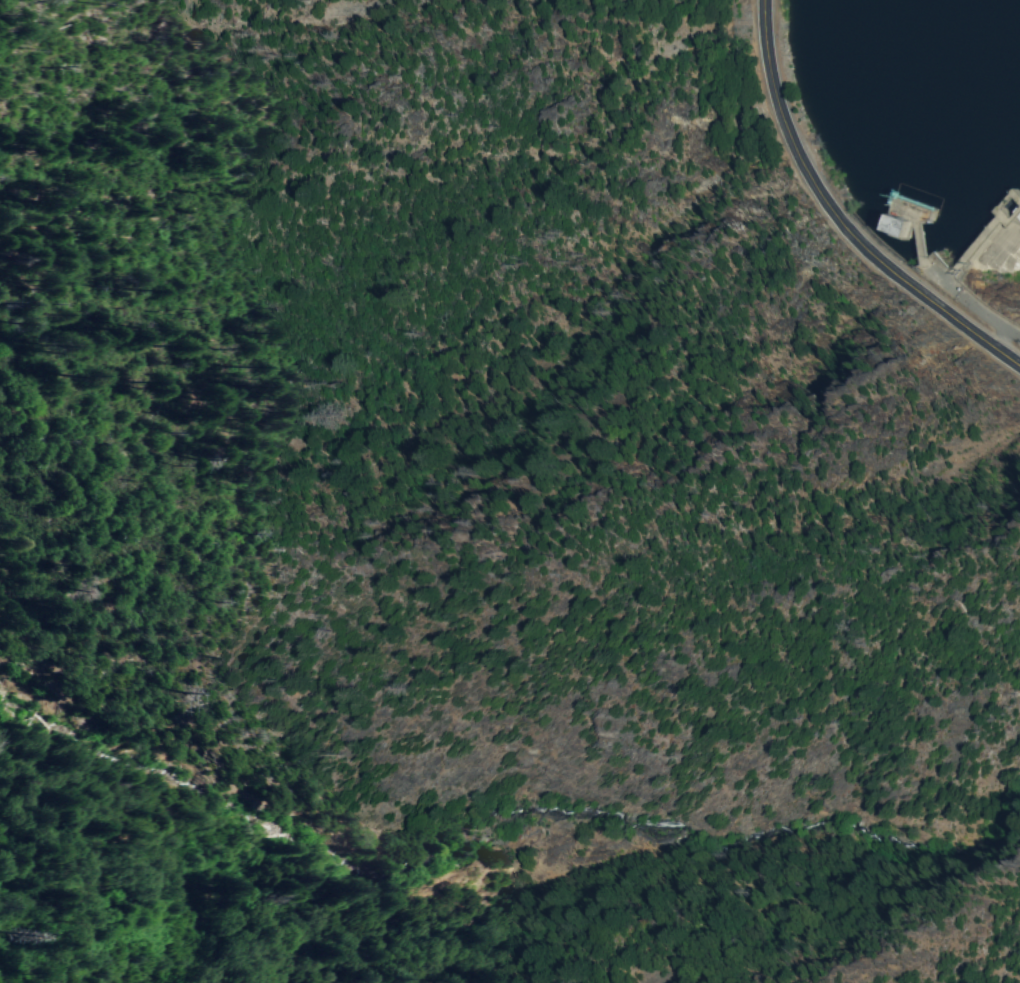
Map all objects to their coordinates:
river: (946, 65)
river: (976, 163)
river: (1013, 202)
road: (836, 218)
building: (899, 223)
dam: (998, 241)

